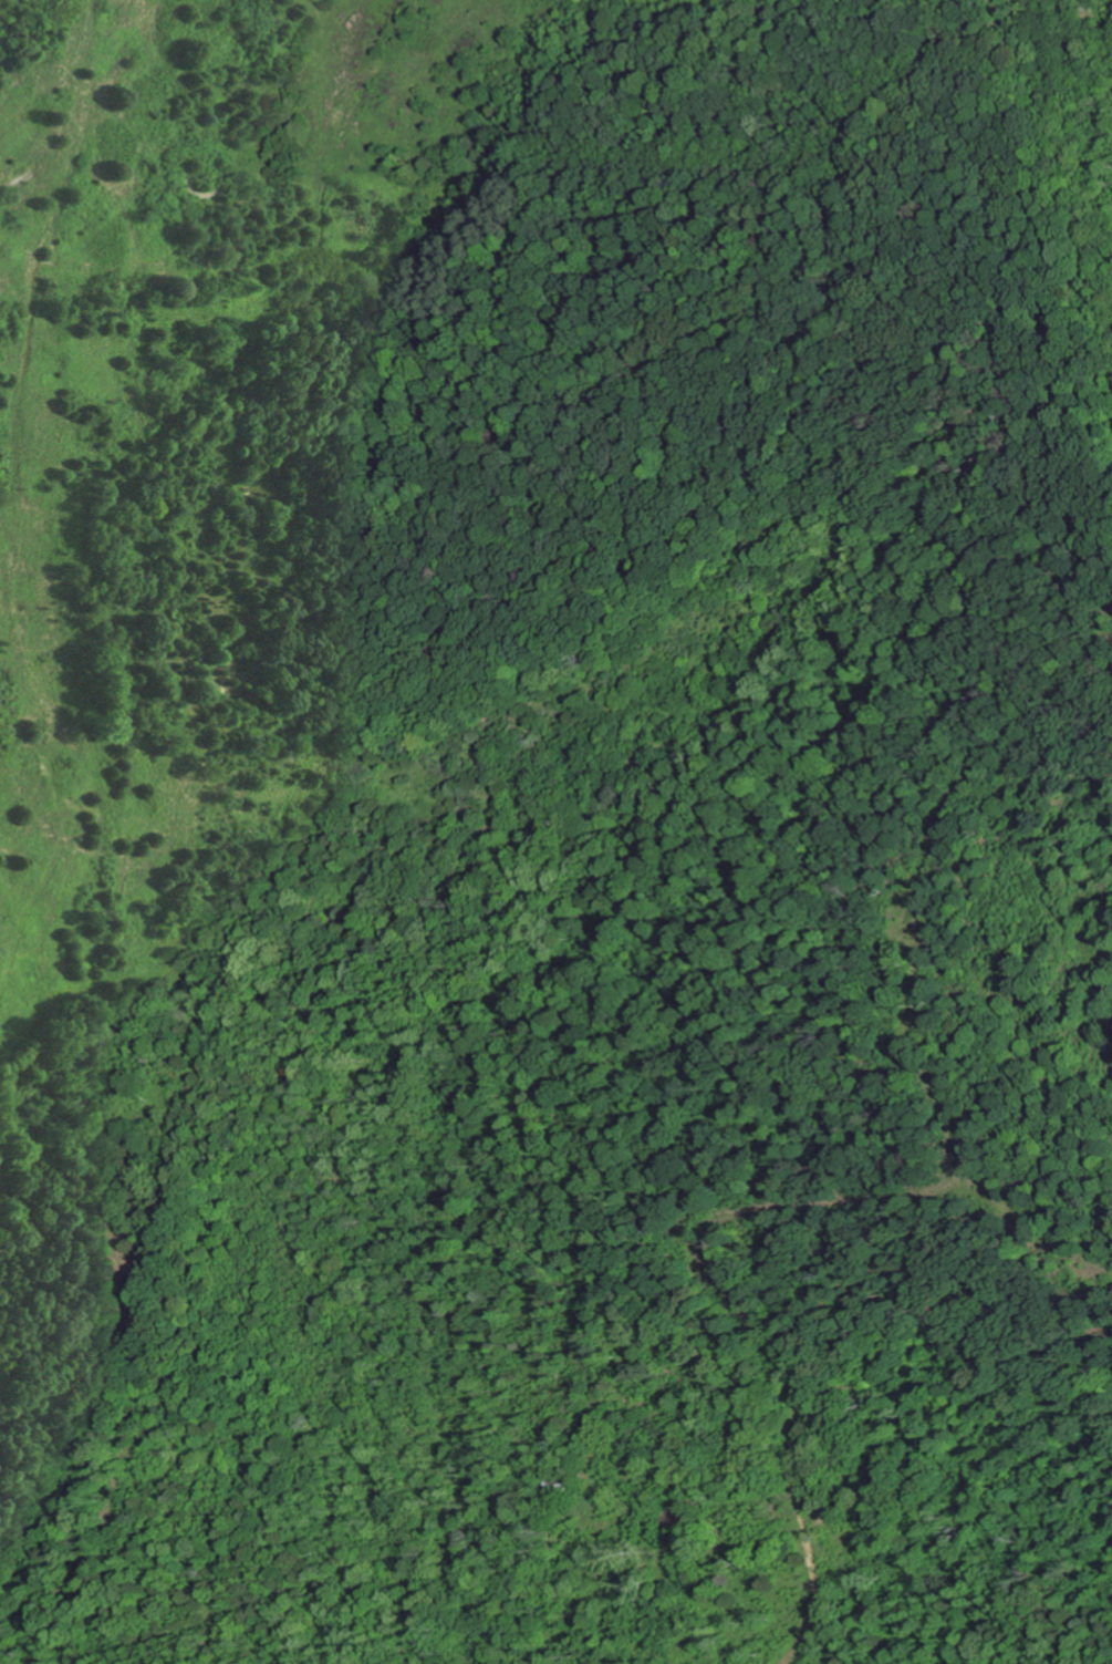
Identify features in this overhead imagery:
road: (364, 1592)

